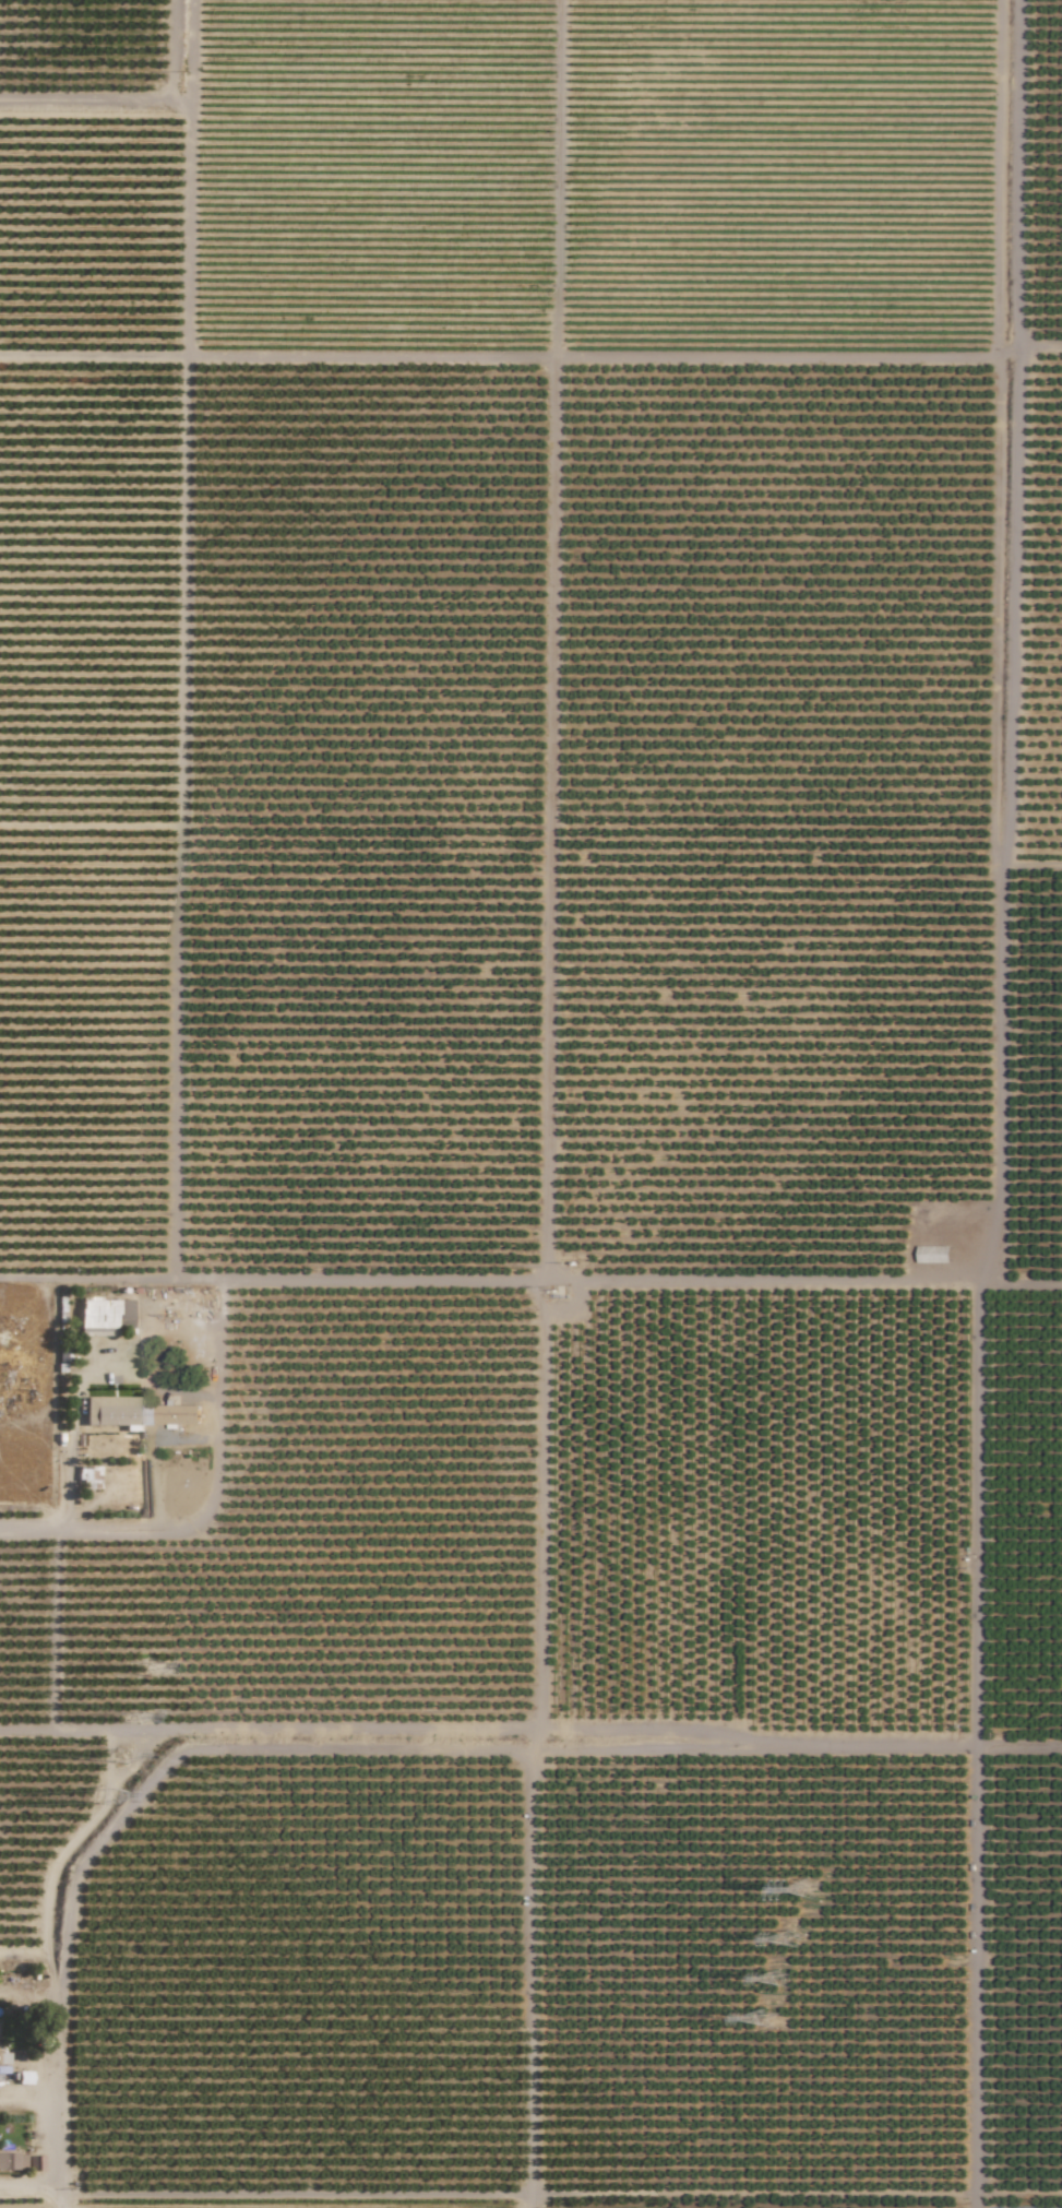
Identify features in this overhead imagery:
road: (86, 95)
road: (187, 174)
road: (179, 810)
building: (104, 1314)
road: (114, 1351)
road: (155, 1385)
building: (136, 1412)
road: (160, 1527)
power tower: (147, 1669)
power tower: (129, 1718)
power tower: (119, 1757)
power tower: (106, 1800)
power tower: (814, 1892)
power tower: (797, 1940)
power tower: (784, 1981)
power tower: (769, 2019)
road: (57, 2092)
building: (12, 2160)
building: (34, 2162)
road: (55, 2196)

